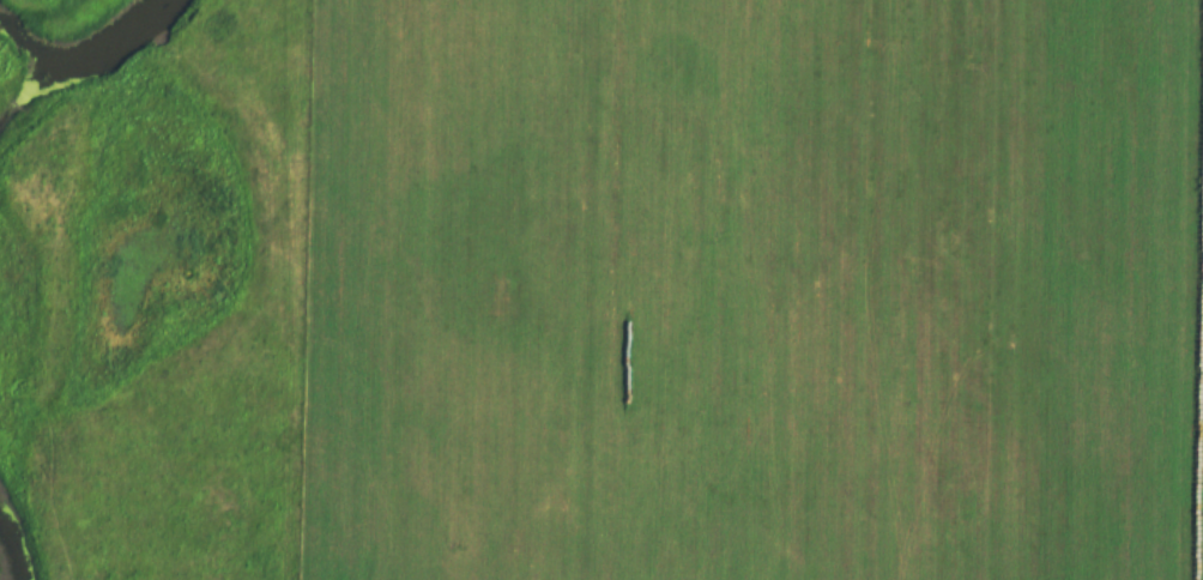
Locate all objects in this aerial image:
river: (104, 78)
crop: (751, 290)
river: (2, 564)

